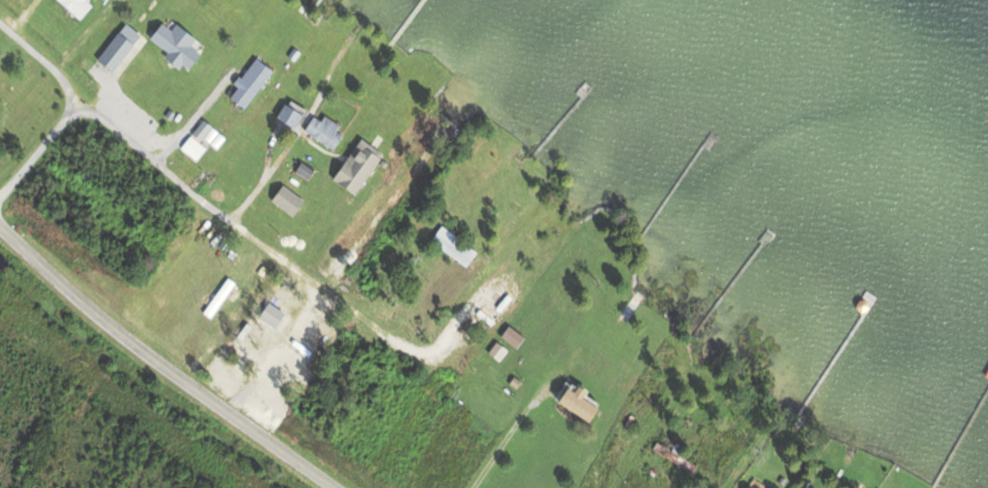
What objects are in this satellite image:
pier: (312, 3)
building: (75, 6)
pier: (402, 19)
building: (173, 40)
building: (114, 42)
building: (290, 51)
road: (47, 61)
building: (247, 78)
building: (286, 112)
road: (192, 116)
pier: (558, 119)
building: (198, 125)
building: (320, 127)
building: (189, 144)
road: (34, 155)
road: (153, 156)
building: (354, 163)
building: (300, 167)
road: (260, 175)
pier: (671, 183)
building: (284, 198)
building: (449, 242)
building: (475, 248)
pier: (728, 281)
road: (319, 285)
building: (217, 299)
building: (268, 311)
building: (507, 332)
building: (493, 346)
pier: (834, 352)
road: (163, 364)
building: (985, 369)
building: (986, 374)
building: (512, 378)
building: (572, 397)
pier: (959, 430)
building: (670, 453)
building: (750, 487)

